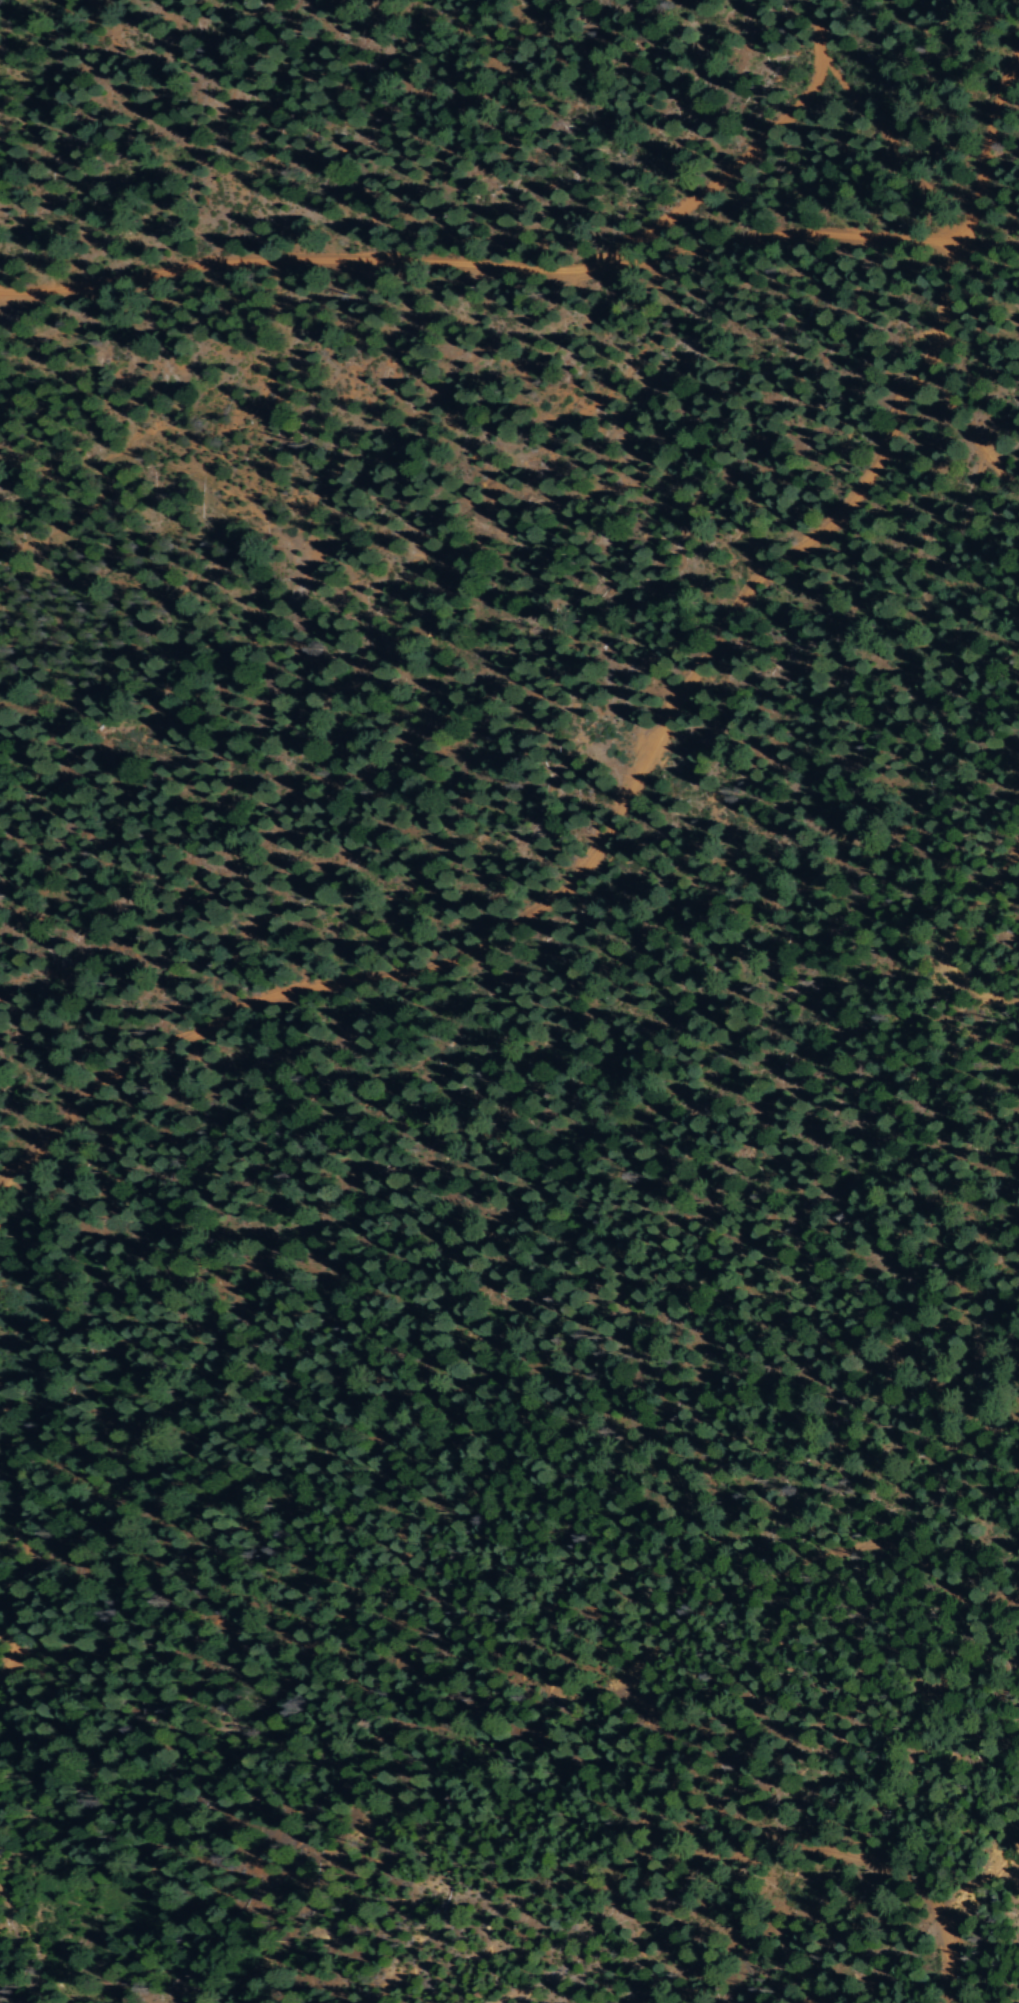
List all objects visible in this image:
road: (845, 204)
road: (687, 691)

